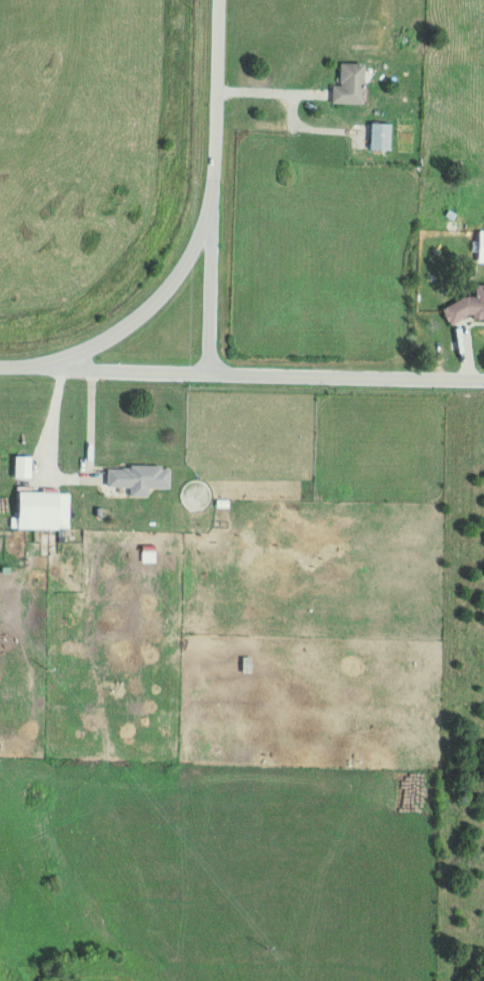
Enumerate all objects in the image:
building: (351, 84)
road: (269, 91)
building: (381, 136)
road: (203, 214)
building: (482, 247)
road: (209, 286)
building: (466, 308)
road: (28, 365)
road: (269, 373)
building: (141, 478)
building: (46, 510)

